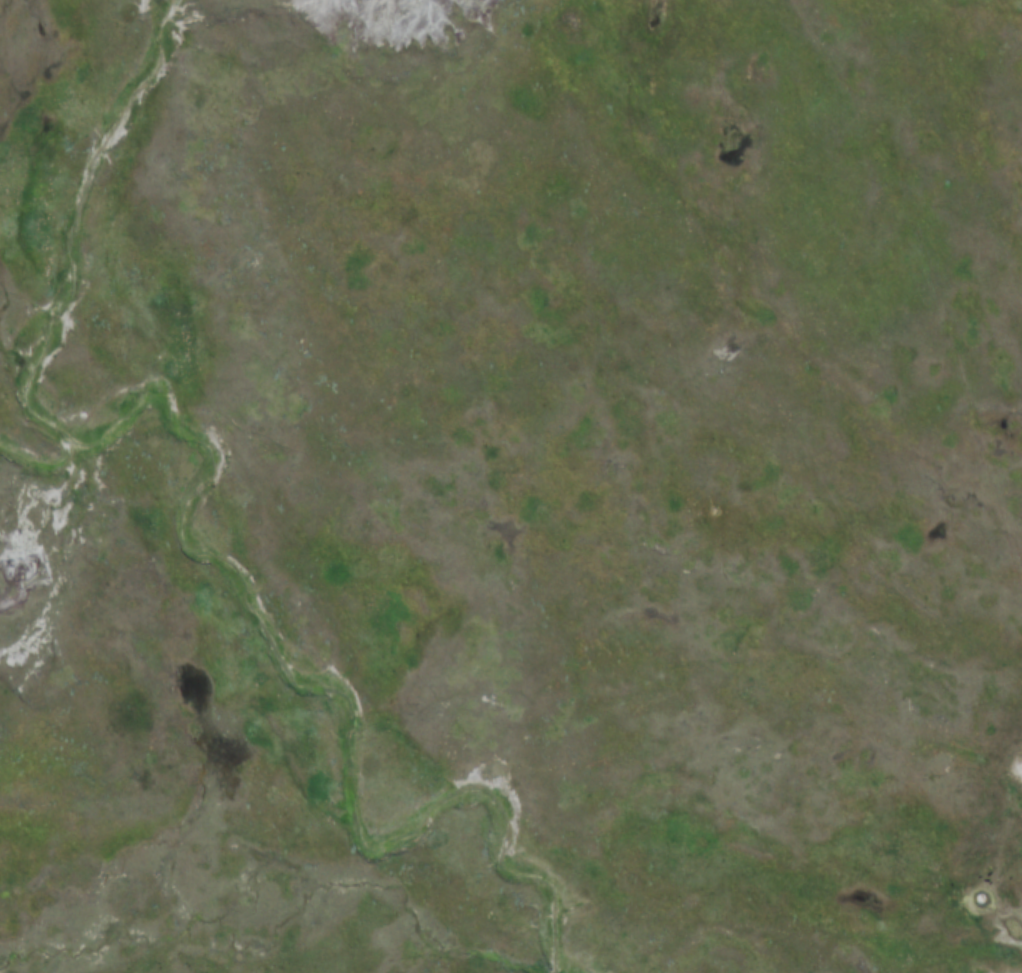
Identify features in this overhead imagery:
storage tank: (979, 896)

